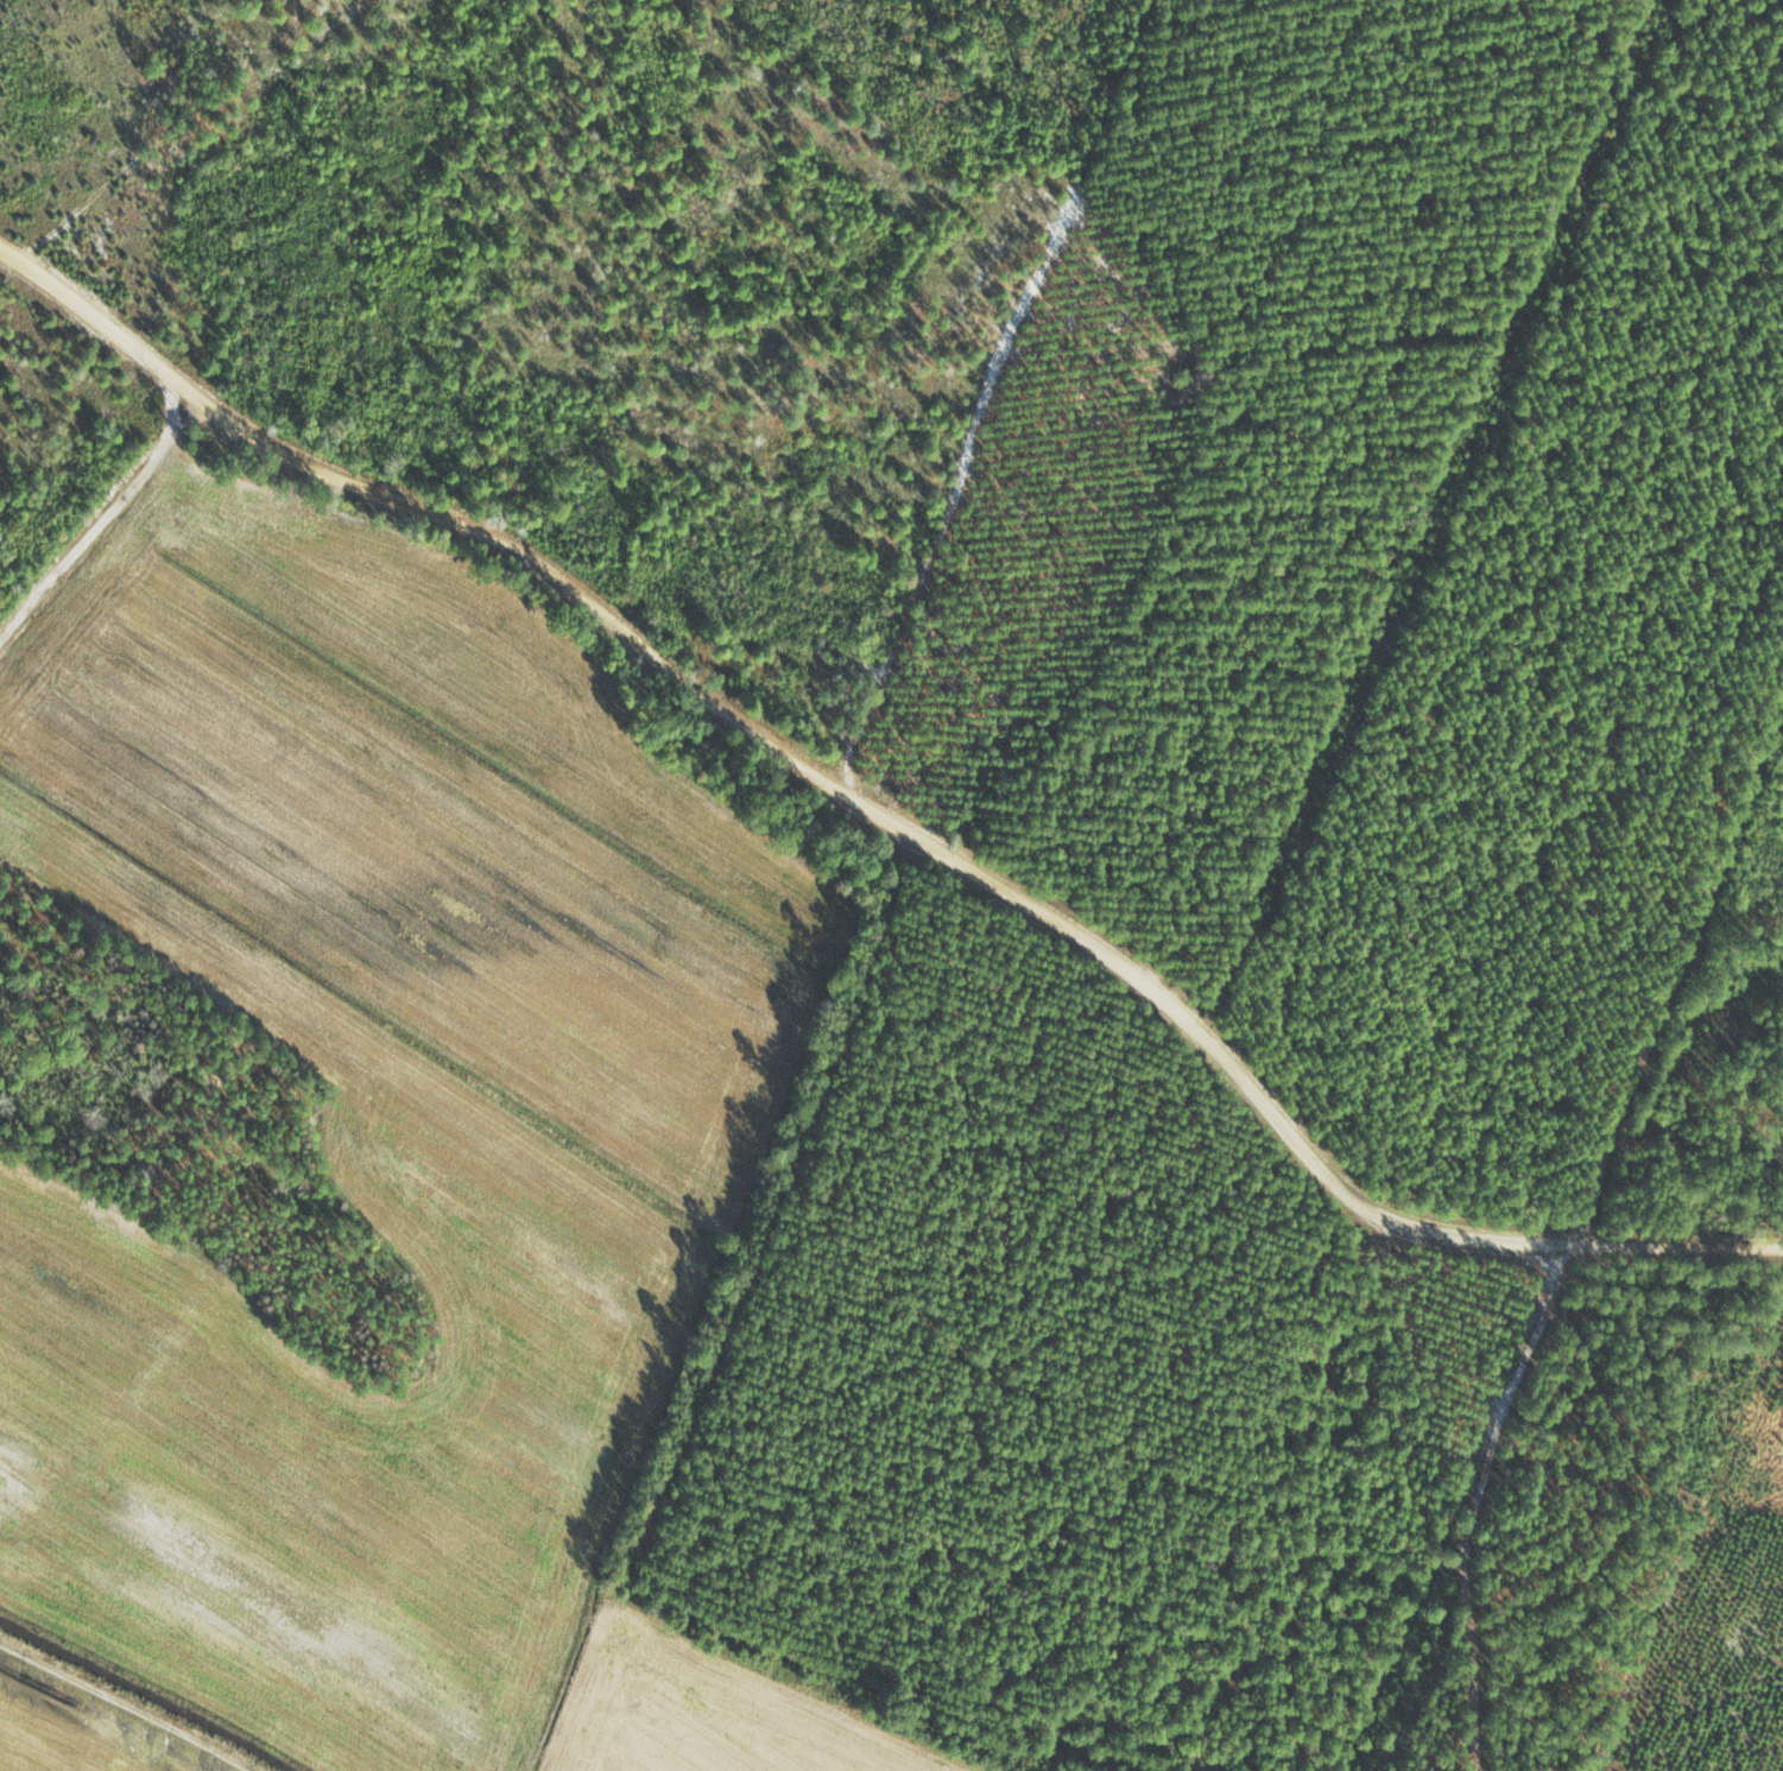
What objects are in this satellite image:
road: (49, 342)
road: (40, 448)
road: (934, 830)

